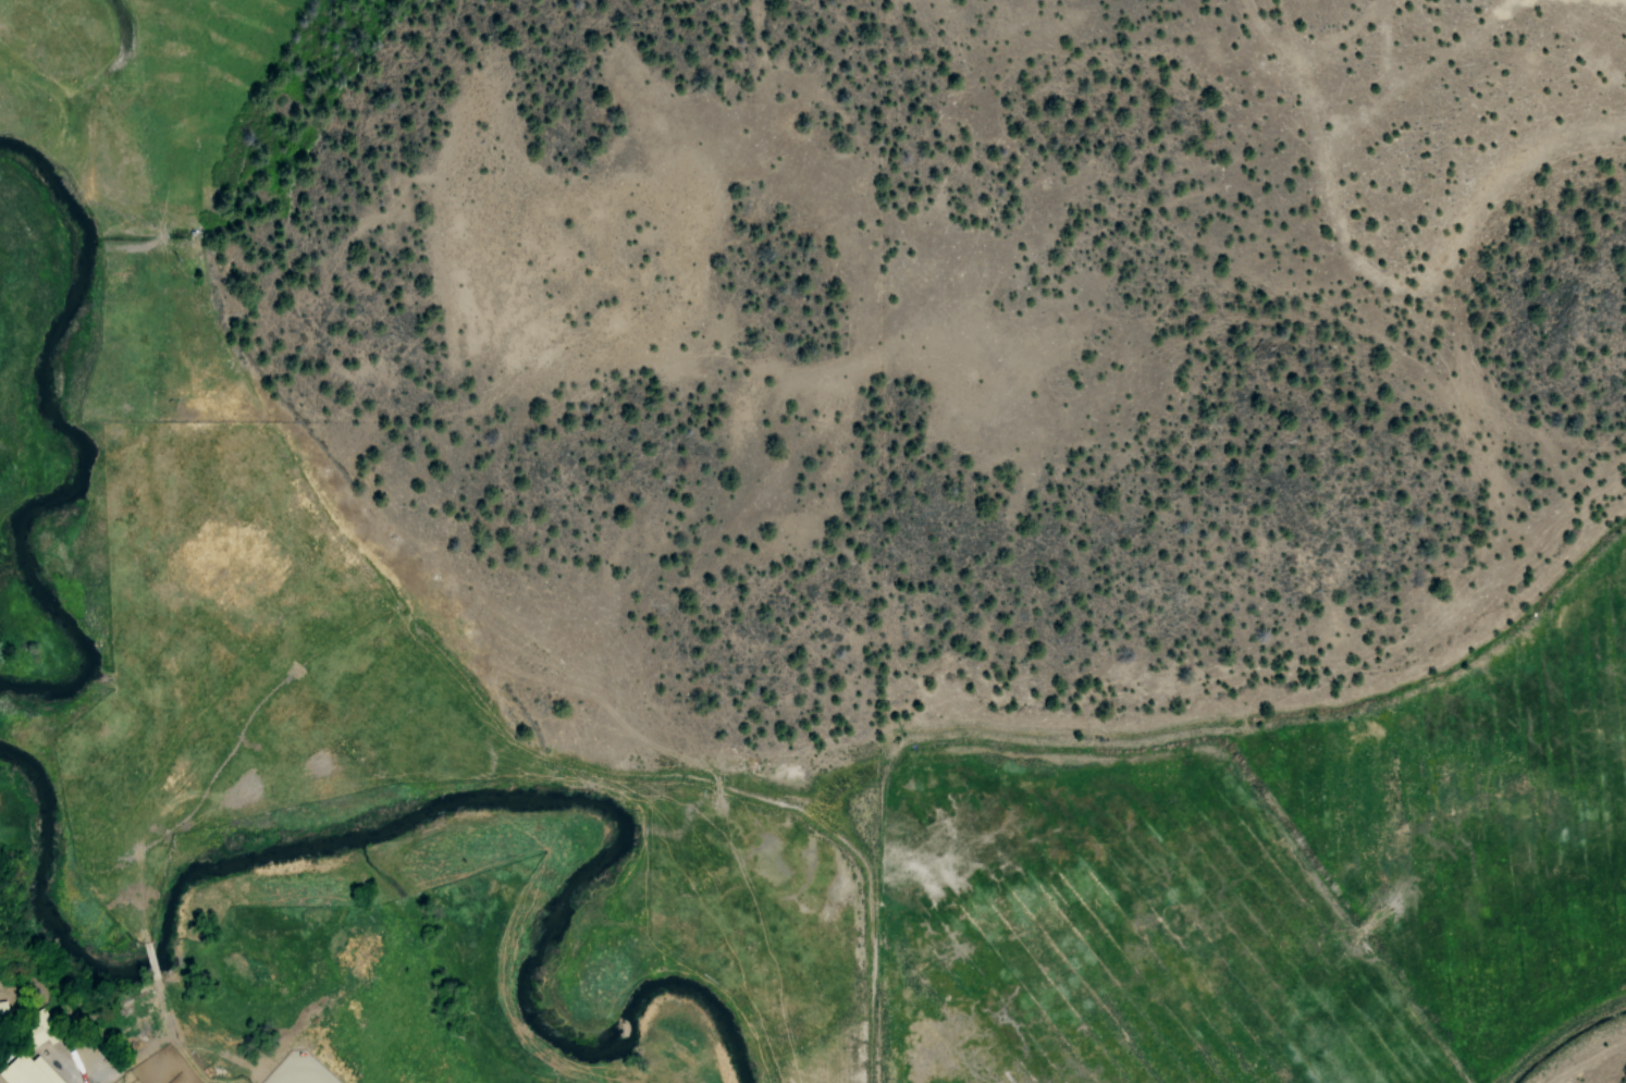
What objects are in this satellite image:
river: (70, 458)
river: (456, 805)
building: (28, 1071)

